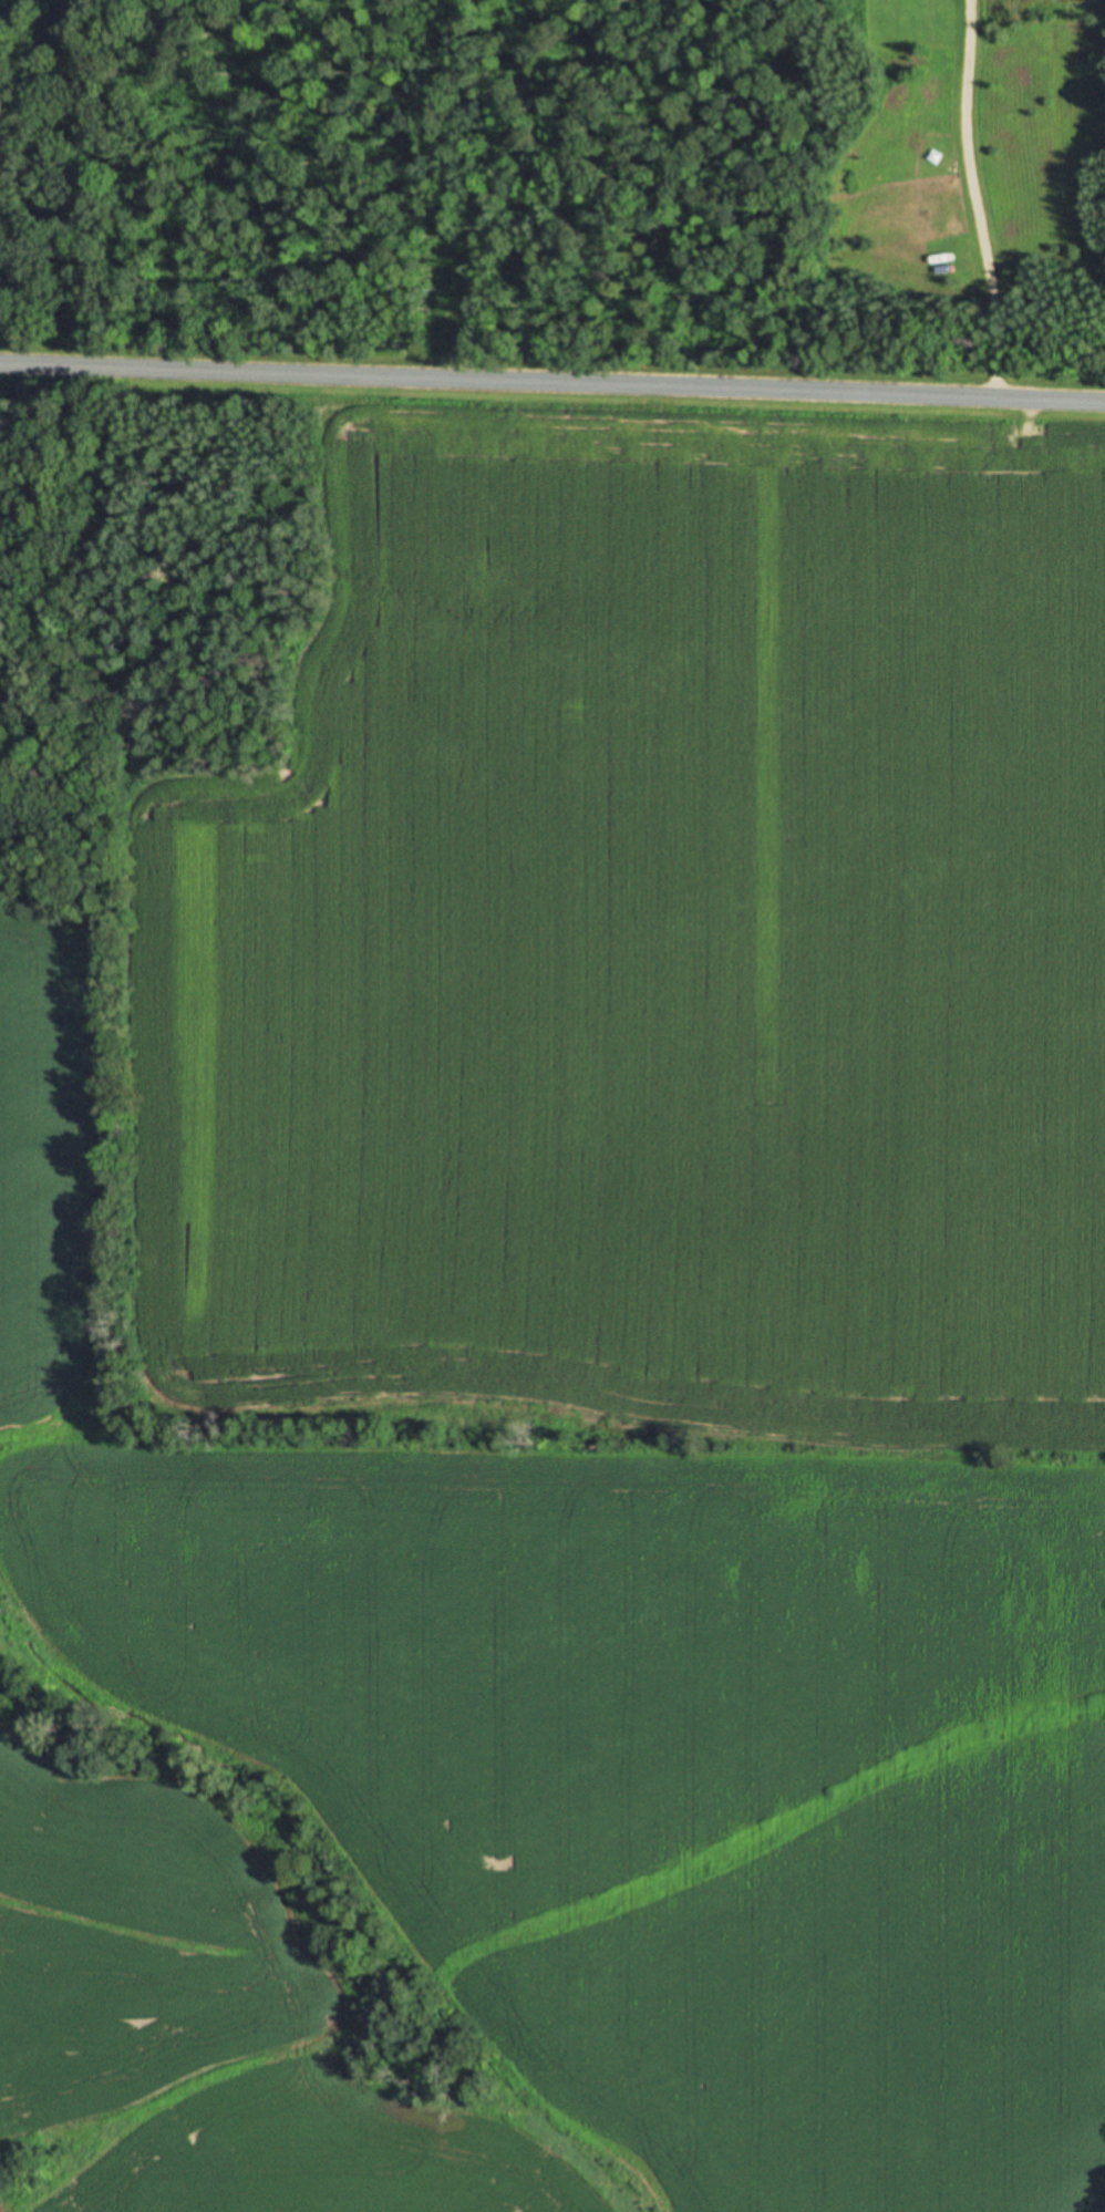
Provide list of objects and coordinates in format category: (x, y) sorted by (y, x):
road: (970, 209)
road: (551, 401)

